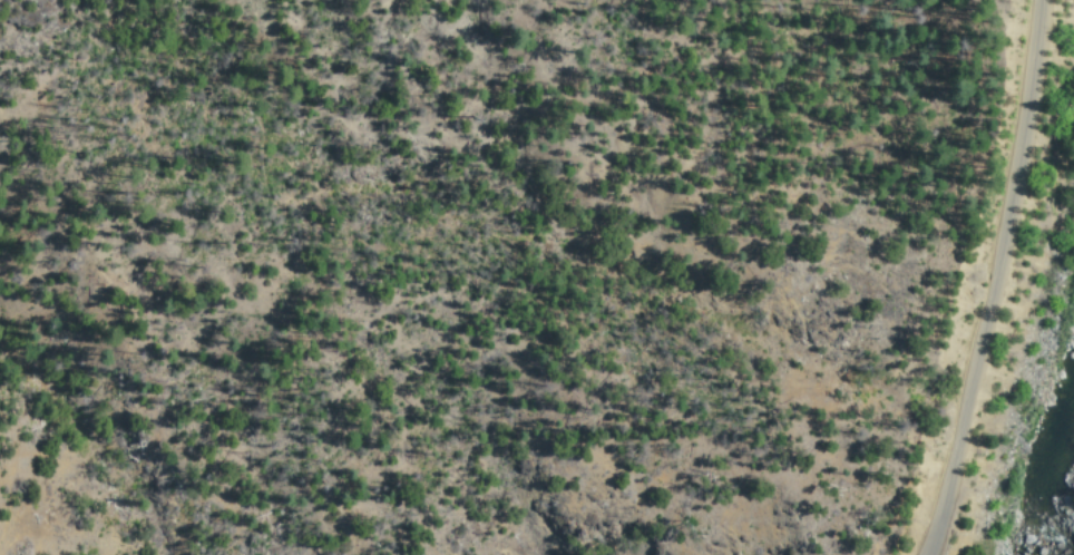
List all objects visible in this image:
road: (996, 280)
river: (1058, 467)
river: (1046, 535)

